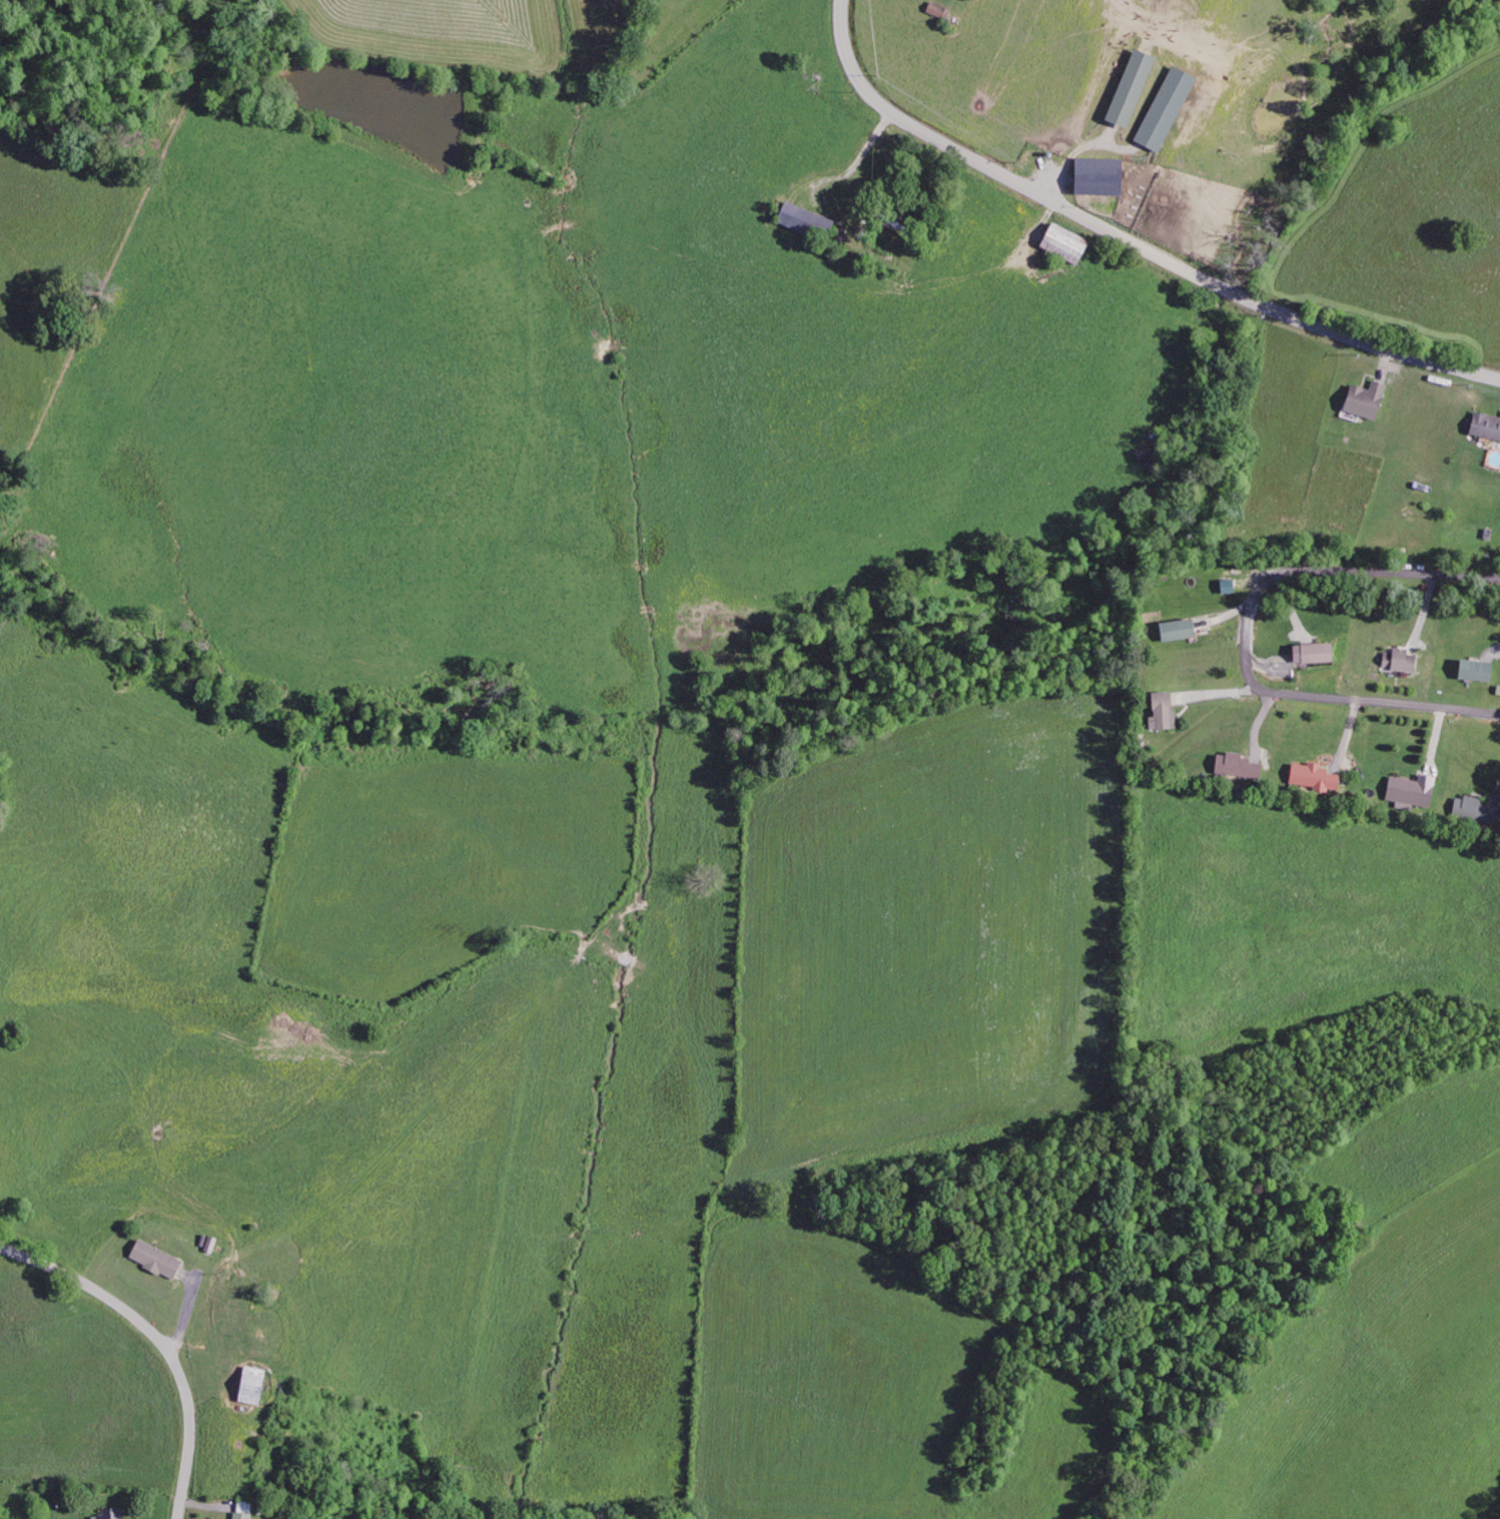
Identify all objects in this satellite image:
building: (1125, 88)
building: (1162, 109)
building: (1094, 176)
road: (1129, 239)
building: (1059, 243)
building: (1362, 399)
building: (1484, 424)
building: (1173, 629)
road: (1248, 637)
building: (1310, 651)
building: (1398, 659)
building: (1472, 669)
building: (1160, 710)
building: (1233, 765)
building: (1308, 776)
building: (1407, 791)
building: (1470, 808)
building: (152, 1259)
road: (161, 1339)
building: (248, 1385)
building: (110, 1514)
building: (240, 1515)

